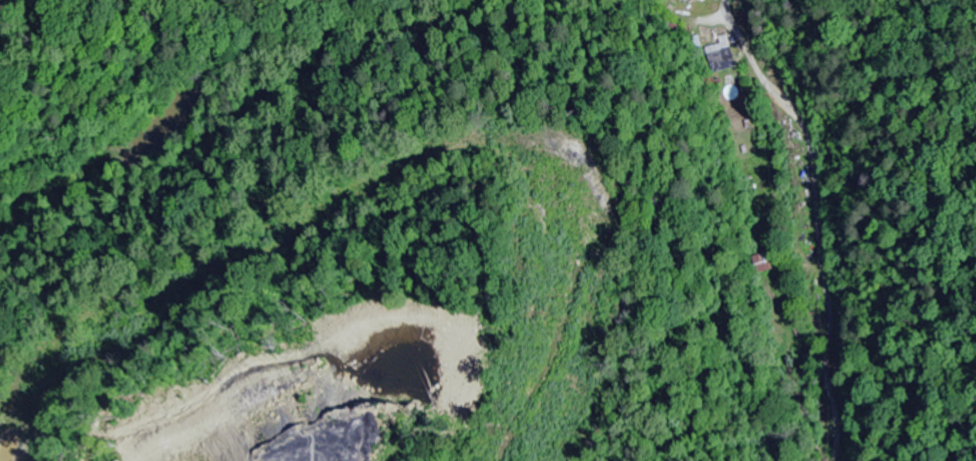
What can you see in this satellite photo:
road: (715, 18)
building: (666, 21)
building: (720, 56)
building: (761, 264)

